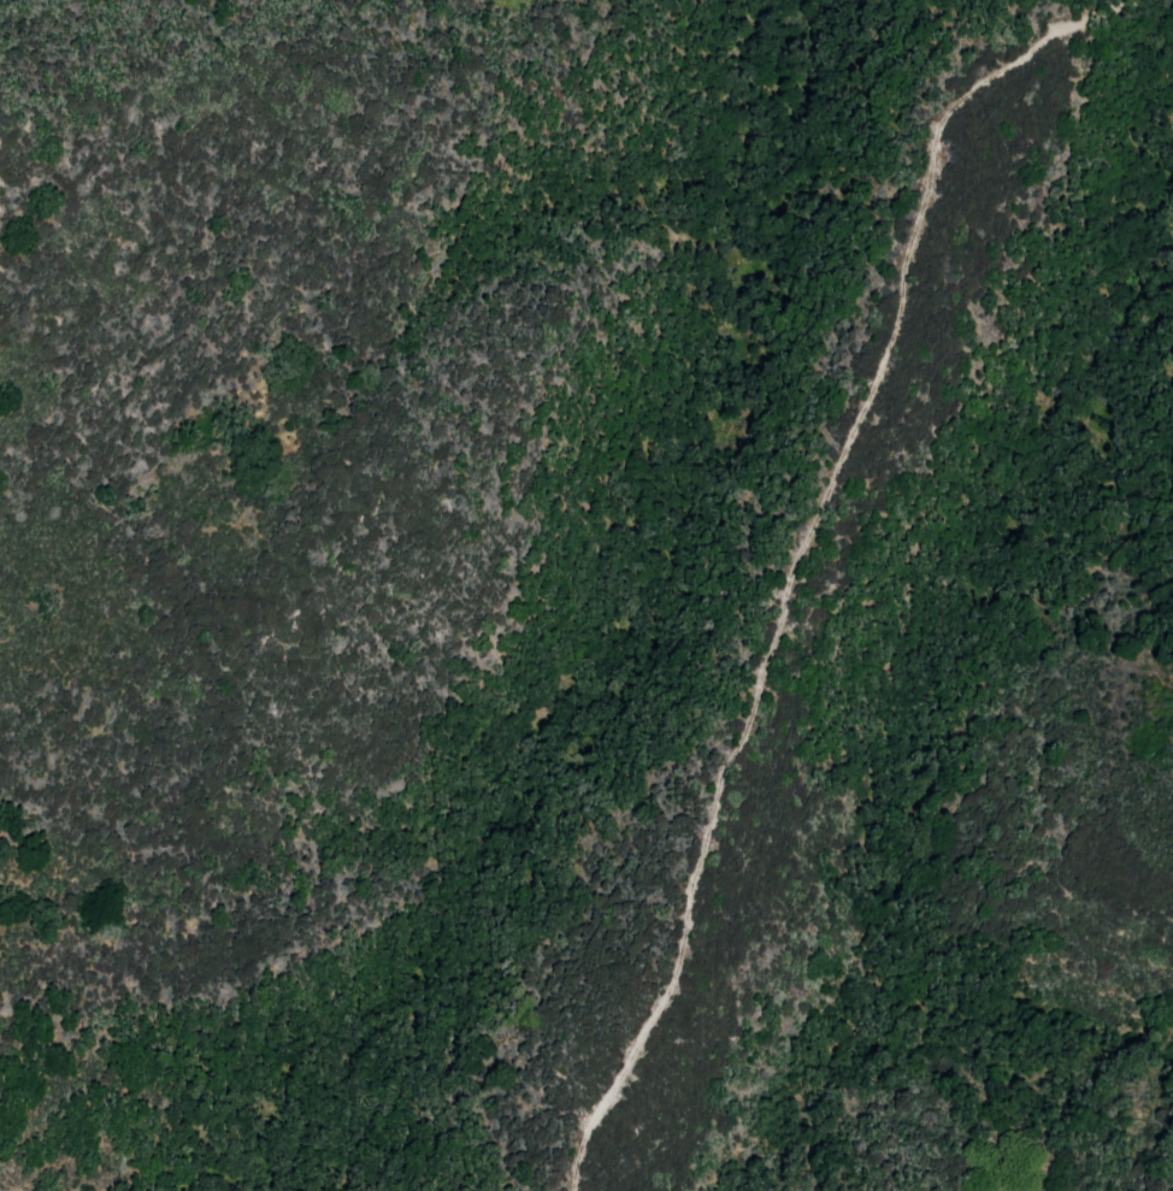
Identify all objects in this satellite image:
road: (790, 578)

